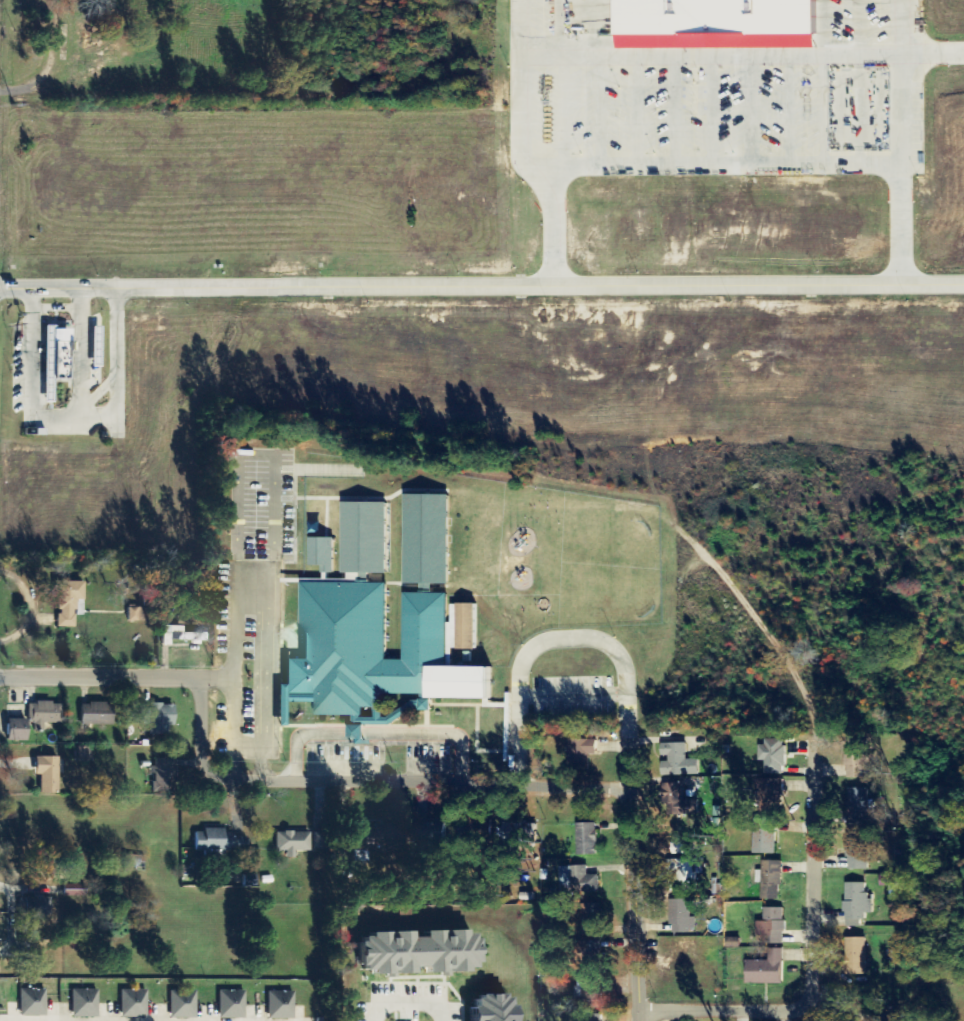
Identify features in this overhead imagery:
building: (722, 25)
road: (482, 282)
building: (97, 347)
building: (57, 359)
road: (254, 459)
building: (324, 555)
building: (68, 602)
building: (137, 614)
building: (384, 620)
building: (469, 627)
building: (182, 635)
road: (549, 641)
road: (117, 676)
building: (98, 713)
building: (159, 718)
building: (34, 720)
building: (581, 754)
building: (774, 756)
building: (858, 759)
building: (680, 761)
building: (48, 774)
building: (164, 775)
road: (431, 783)
building: (775, 792)
building: (679, 801)
building: (858, 806)
building: (470, 830)
building: (522, 832)
building: (435, 833)
building: (379, 834)
building: (765, 836)
building: (588, 839)
building: (219, 841)
building: (322, 842)
building: (293, 843)
building: (858, 852)
building: (686, 874)
building: (584, 880)
road: (634, 880)
building: (772, 881)
building: (890, 881)
building: (77, 892)
building: (858, 904)
building: (37, 907)
building: (683, 916)
building: (594, 920)
building: (772, 927)
building: (423, 951)
road: (825, 954)
building: (597, 956)
building: (857, 956)
building: (768, 969)
building: (22, 999)
building: (592, 999)
building: (35, 1000)
building: (77, 1000)
building: (124, 1000)
building: (89, 1001)
building: (137, 1001)
building: (174, 1001)
building: (186, 1001)
building: (222, 1001)
building: (234, 1002)
building: (271, 1002)
building: (284, 1003)
road: (458, 1015)

